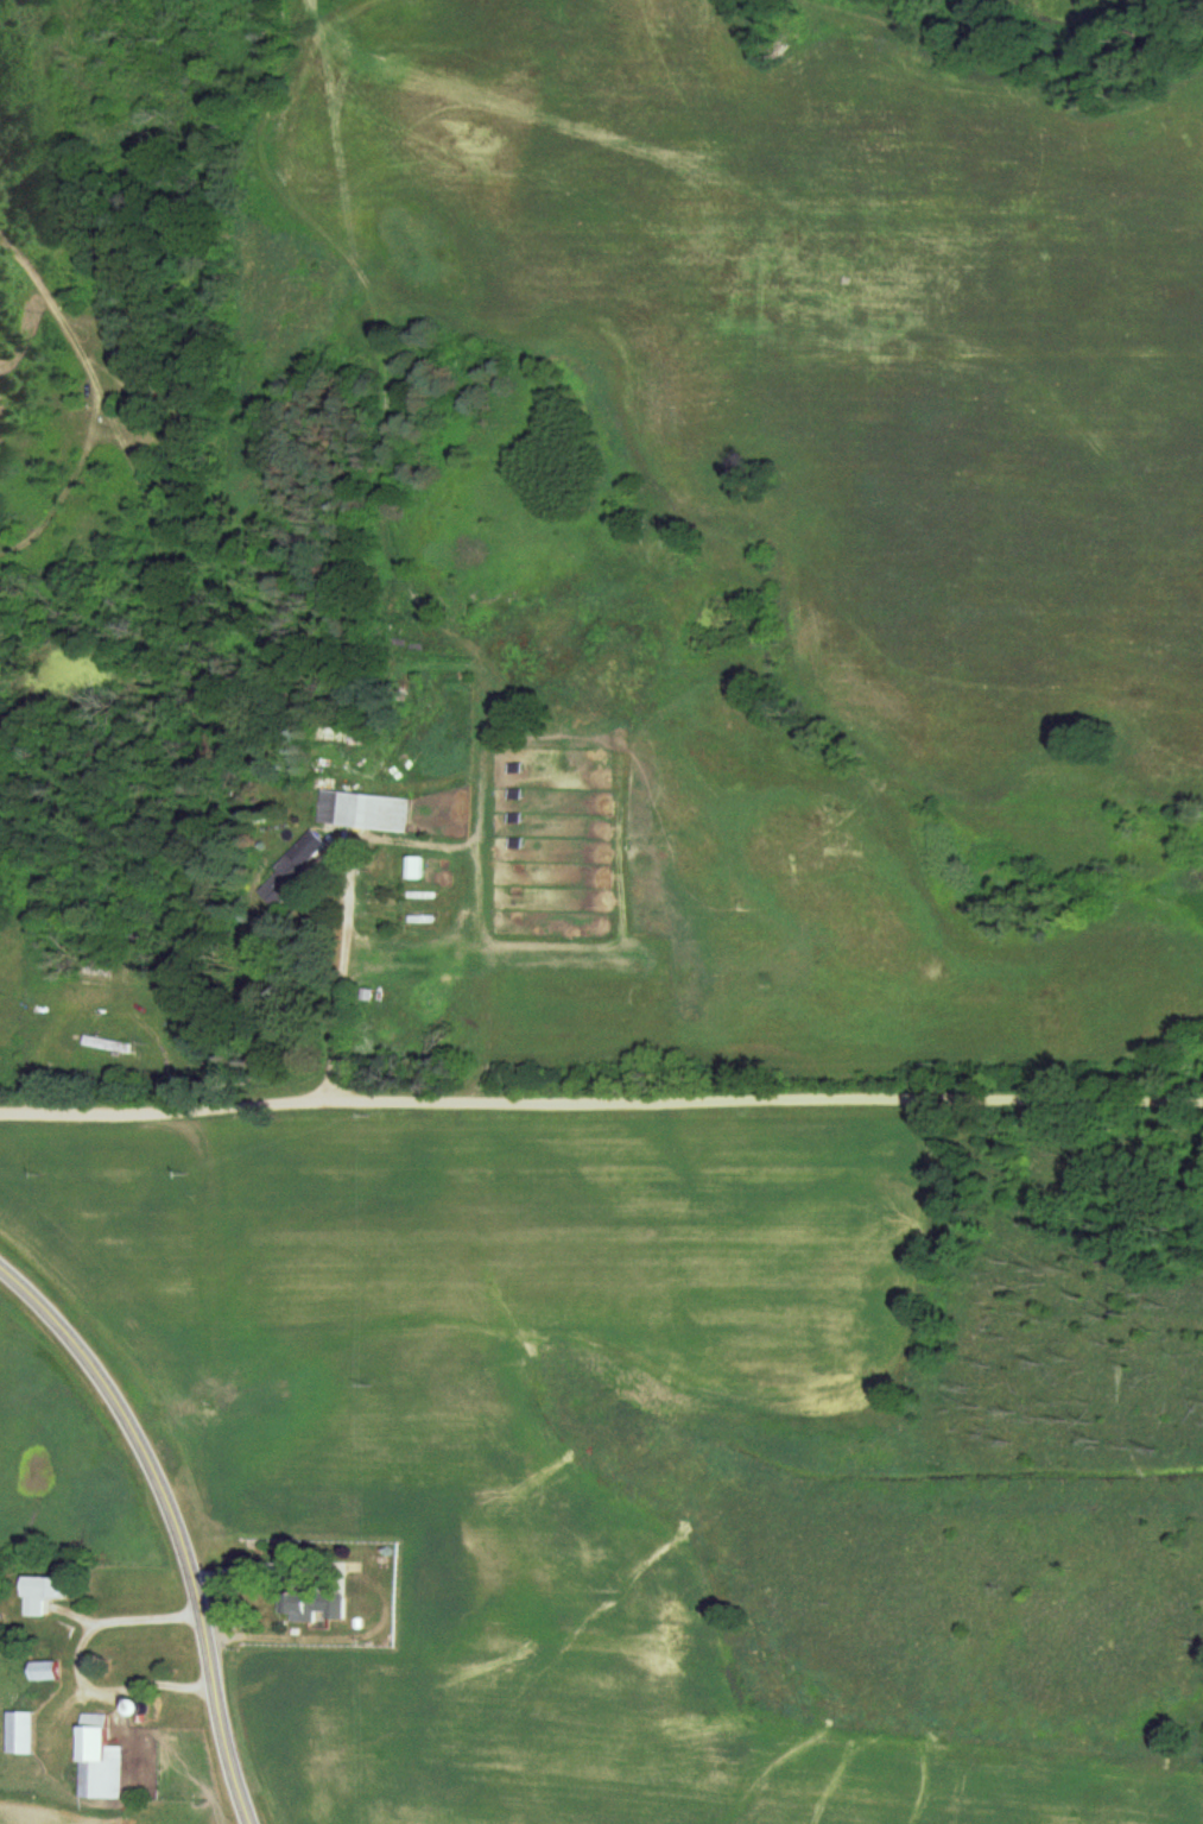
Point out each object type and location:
building: (127, 371)
building: (363, 809)
building: (305, 851)
building: (414, 866)
building: (109, 1043)
road: (601, 1099)
road: (173, 1520)
building: (45, 1592)
building: (318, 1605)
building: (50, 1670)
building: (25, 1731)
building: (102, 1759)

